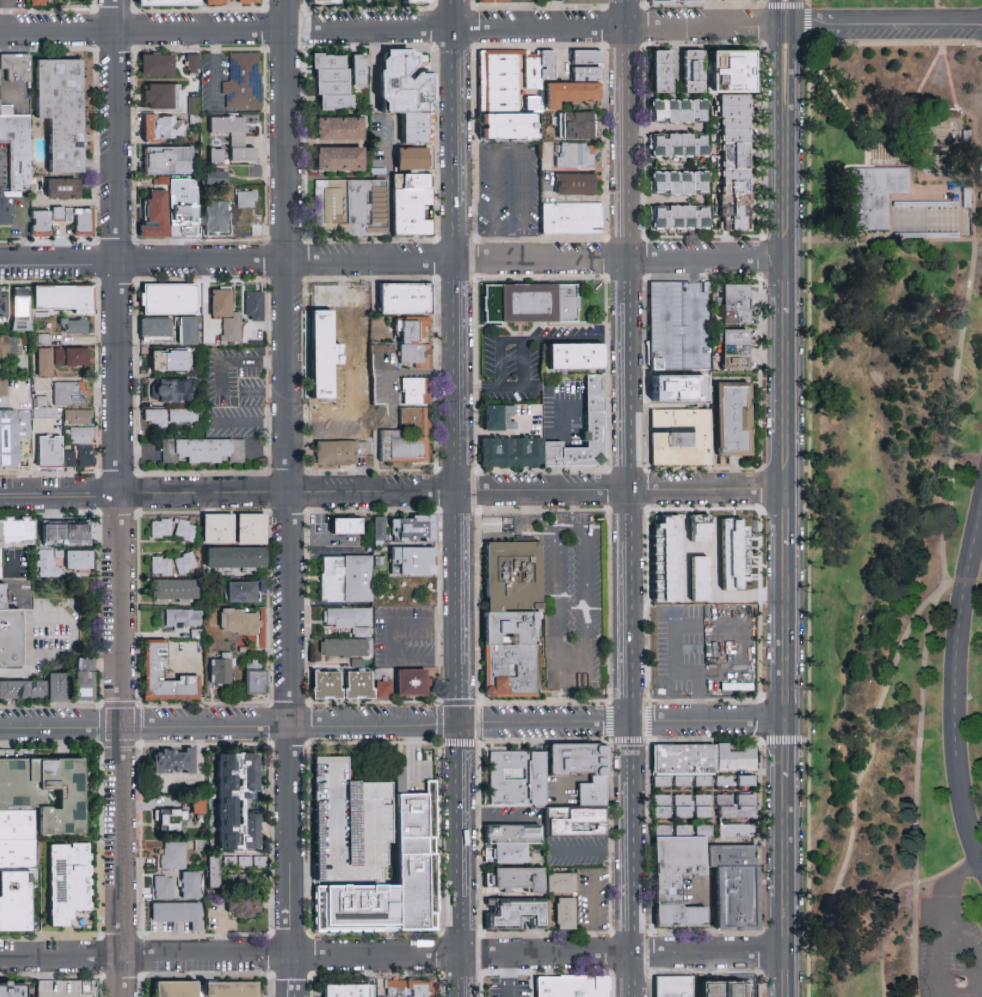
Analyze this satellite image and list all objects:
building: (493, 0)
building: (735, 0)
building: (218, 2)
building: (247, 2)
building: (323, 2)
building: (415, 2)
building: (585, 2)
building: (672, 2)
road: (809, 2)
building: (37, 3)
building: (167, 3)
road: (937, 9)
road: (523, 13)
road: (554, 13)
road: (705, 13)
road: (4, 14)
road: (884, 19)
road: (388, 28)
building: (585, 57)
building: (192, 64)
building: (157, 65)
building: (16, 67)
building: (536, 68)
road: (213, 70)
building: (356, 71)
building: (660, 71)
building: (692, 71)
building: (730, 71)
road: (1, 76)
building: (406, 80)
building: (331, 82)
building: (245, 83)
building: (891, 85)
building: (573, 87)
road: (918, 91)
building: (159, 96)
building: (500, 98)
road: (837, 98)
building: (530, 104)
building: (192, 105)
building: (678, 111)
building: (67, 114)
building: (578, 124)
building: (161, 128)
building: (338, 129)
building: (418, 131)
building: (233, 137)
building: (678, 145)
road: (508, 146)
building: (14, 153)
road: (979, 154)
building: (214, 155)
building: (576, 156)
building: (415, 158)
building: (338, 159)
building: (167, 161)
building: (733, 163)
building: (214, 178)
building: (679, 183)
building: (578, 184)
building: (63, 188)
road: (387, 189)
building: (966, 197)
building: (872, 199)
building: (243, 202)
building: (935, 204)
building: (354, 205)
building: (415, 205)
building: (6, 213)
building: (188, 213)
building: (155, 216)
building: (215, 218)
building: (678, 218)
building: (75, 219)
building: (574, 219)
building: (39, 224)
road: (26, 231)
road: (896, 241)
road: (117, 246)
road: (395, 260)
road: (968, 296)
building: (409, 298)
building: (62, 299)
building: (167, 299)
building: (220, 303)
building: (533, 304)
building: (738, 305)
building: (4, 306)
building: (252, 307)
building: (20, 311)
road: (457, 312)
road: (692, 312)
building: (73, 327)
building: (154, 327)
road: (666, 327)
building: (230, 329)
building: (187, 331)
road: (680, 331)
road: (522, 343)
building: (414, 345)
building: (8, 347)
road: (499, 351)
building: (343, 352)
building: (737, 352)
building: (70, 357)
building: (169, 360)
road: (238, 361)
building: (575, 361)
building: (44, 362)
building: (657, 362)
road: (421, 373)
building: (682, 388)
building: (3, 389)
building: (169, 391)
road: (270, 391)
road: (253, 392)
building: (68, 393)
building: (417, 393)
building: (592, 405)
building: (45, 412)
building: (180, 416)
building: (77, 417)
building: (153, 418)
building: (498, 418)
building: (735, 421)
road: (248, 423)
road: (384, 424)
road: (565, 428)
building: (12, 434)
road: (810, 435)
road: (323, 438)
building: (684, 438)
building: (410, 439)
building: (80, 444)
building: (48, 452)
building: (202, 452)
building: (338, 453)
road: (551, 454)
building: (68, 459)
road: (289, 477)
road: (551, 478)
road: (455, 491)
road: (58, 493)
park: (898, 496)
road: (628, 498)
road: (778, 498)
road: (793, 498)
road: (571, 510)
road: (537, 514)
building: (346, 526)
building: (160, 529)
building: (217, 529)
building: (378, 529)
building: (411, 529)
building: (250, 530)
building: (184, 531)
building: (16, 532)
building: (64, 533)
road: (322, 538)
building: (701, 557)
building: (235, 558)
building: (413, 560)
building: (0, 562)
building: (62, 562)
building: (185, 563)
building: (161, 566)
building: (345, 579)
building: (175, 590)
building: (241, 592)
building: (182, 619)
building: (346, 619)
building: (510, 619)
road: (82, 620)
building: (238, 622)
road: (747, 624)
building: (11, 628)
road: (393, 643)
road: (459, 643)
building: (345, 647)
building: (358, 661)
building: (219, 668)
building: (152, 671)
road: (24, 675)
building: (253, 679)
road: (585, 679)
building: (83, 680)
building: (411, 683)
building: (326, 686)
building: (357, 686)
road: (954, 687)
building: (36, 688)
building: (383, 689)
road: (459, 691)
road: (625, 721)
traffic signals: (459, 722)
road: (229, 723)
road: (120, 744)
road: (873, 746)
building: (582, 757)
building: (738, 757)
building: (172, 762)
building: (685, 763)
building: (517, 776)
road: (583, 778)
building: (725, 779)
building: (748, 779)
building: (595, 790)
road: (916, 793)
building: (235, 801)
building: (197, 806)
building: (682, 806)
building: (703, 806)
building: (662, 807)
building: (736, 807)
building: (38, 809)
building: (169, 820)
road: (498, 822)
building: (581, 827)
building: (736, 831)
building: (513, 840)
road: (590, 851)
building: (370, 855)
building: (171, 856)
building: (680, 856)
road: (460, 859)
building: (243, 862)
building: (212, 871)
building: (514, 880)
building: (249, 881)
building: (67, 882)
building: (559, 883)
building: (736, 885)
building: (189, 886)
building: (163, 888)
road: (946, 893)
road: (894, 899)
building: (674, 904)
building: (14, 906)
road: (871, 906)
building: (243, 907)
road: (707, 911)
road: (592, 913)
building: (177, 914)
building: (563, 914)
building: (517, 919)
road: (220, 927)
road: (945, 941)
parking lot: (948, 949)
road: (396, 955)
road: (292, 976)
road: (497, 976)
road: (527, 976)
flagpole: (961, 984)
building: (573, 985)
building: (675, 986)
building: (65, 988)
building: (407, 988)
building: (205, 989)
building: (13, 992)
building: (349, 993)

